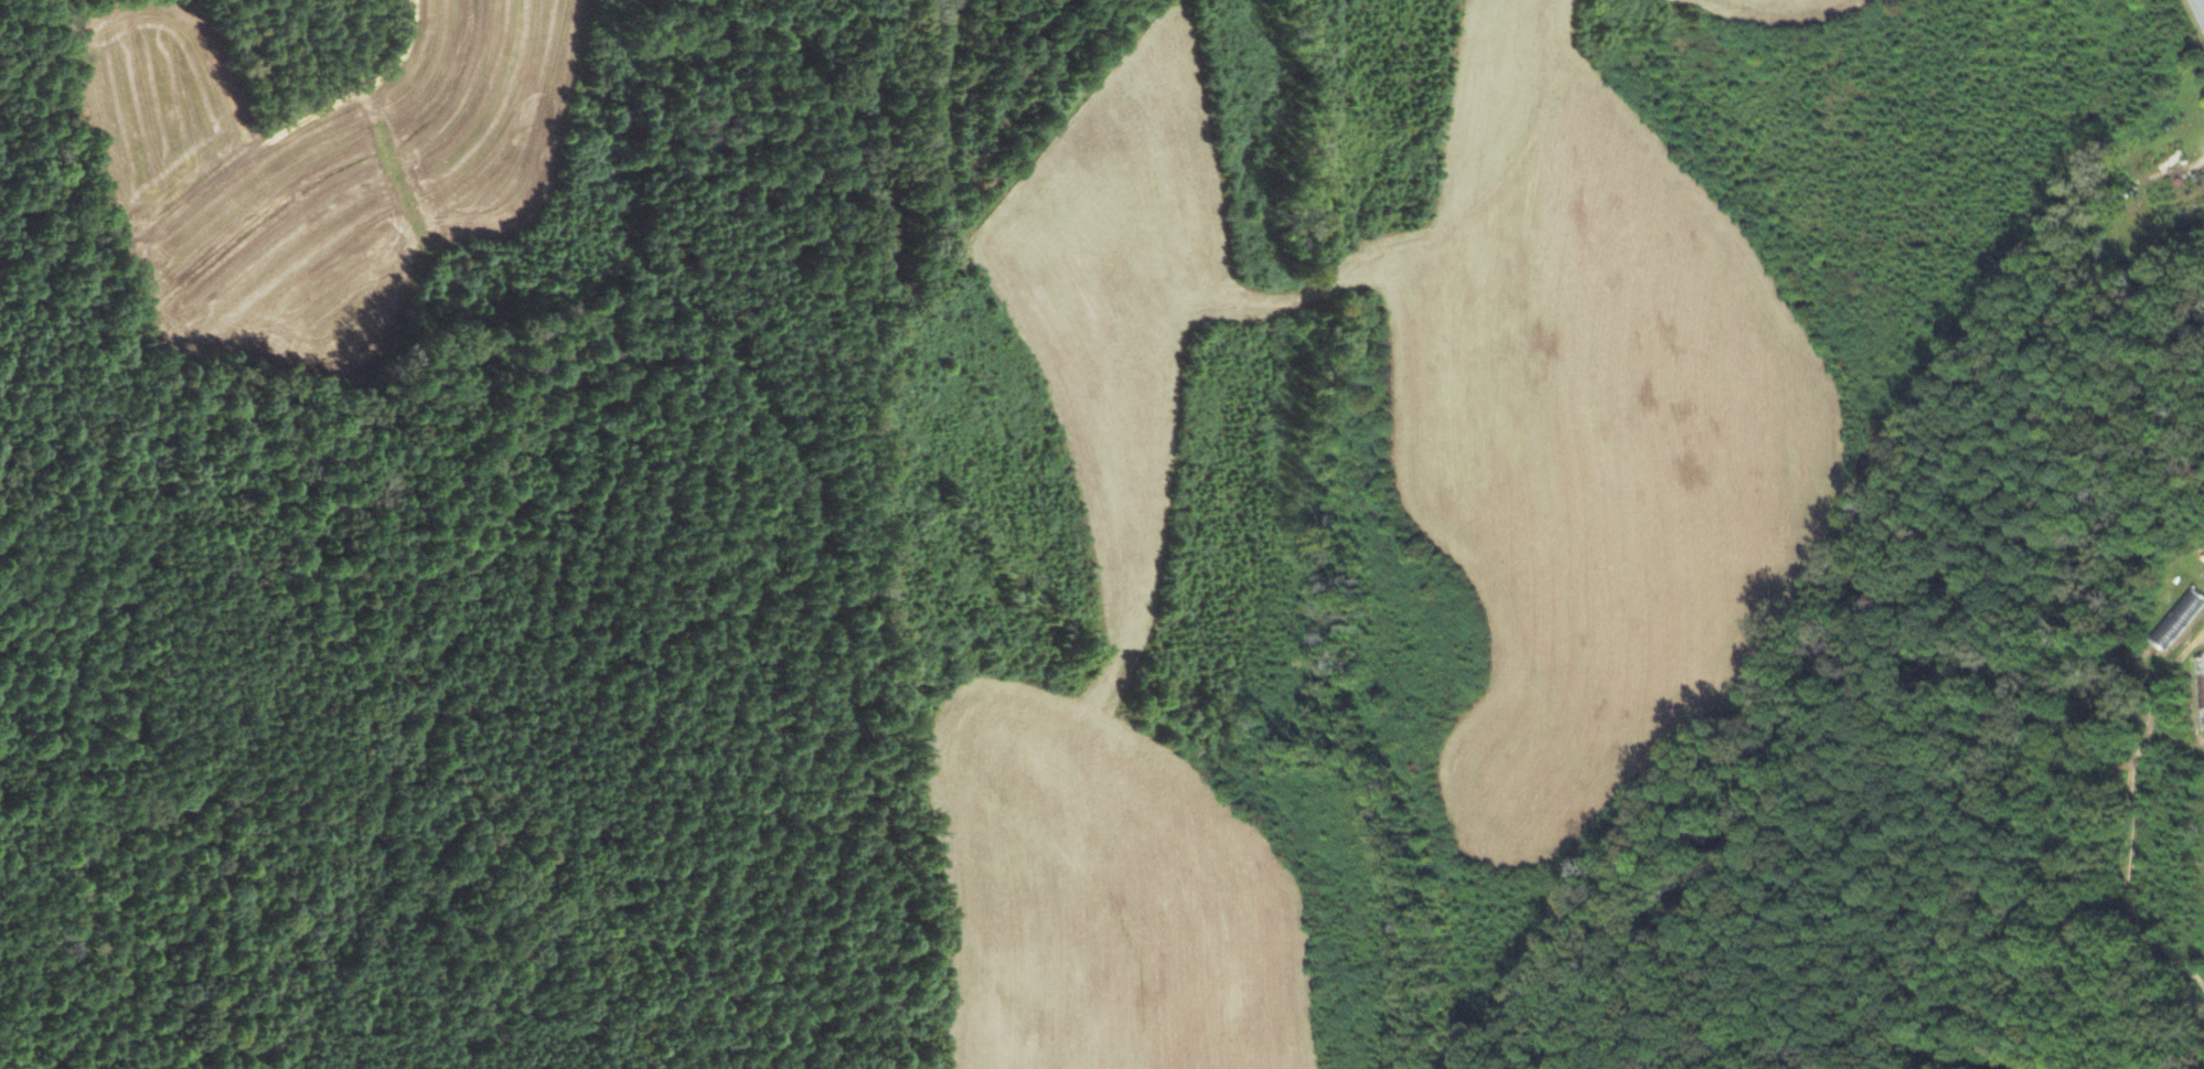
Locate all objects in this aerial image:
road: (2198, 9)
road: (1507, 177)
road: (2198, 637)
building: (2200, 686)

